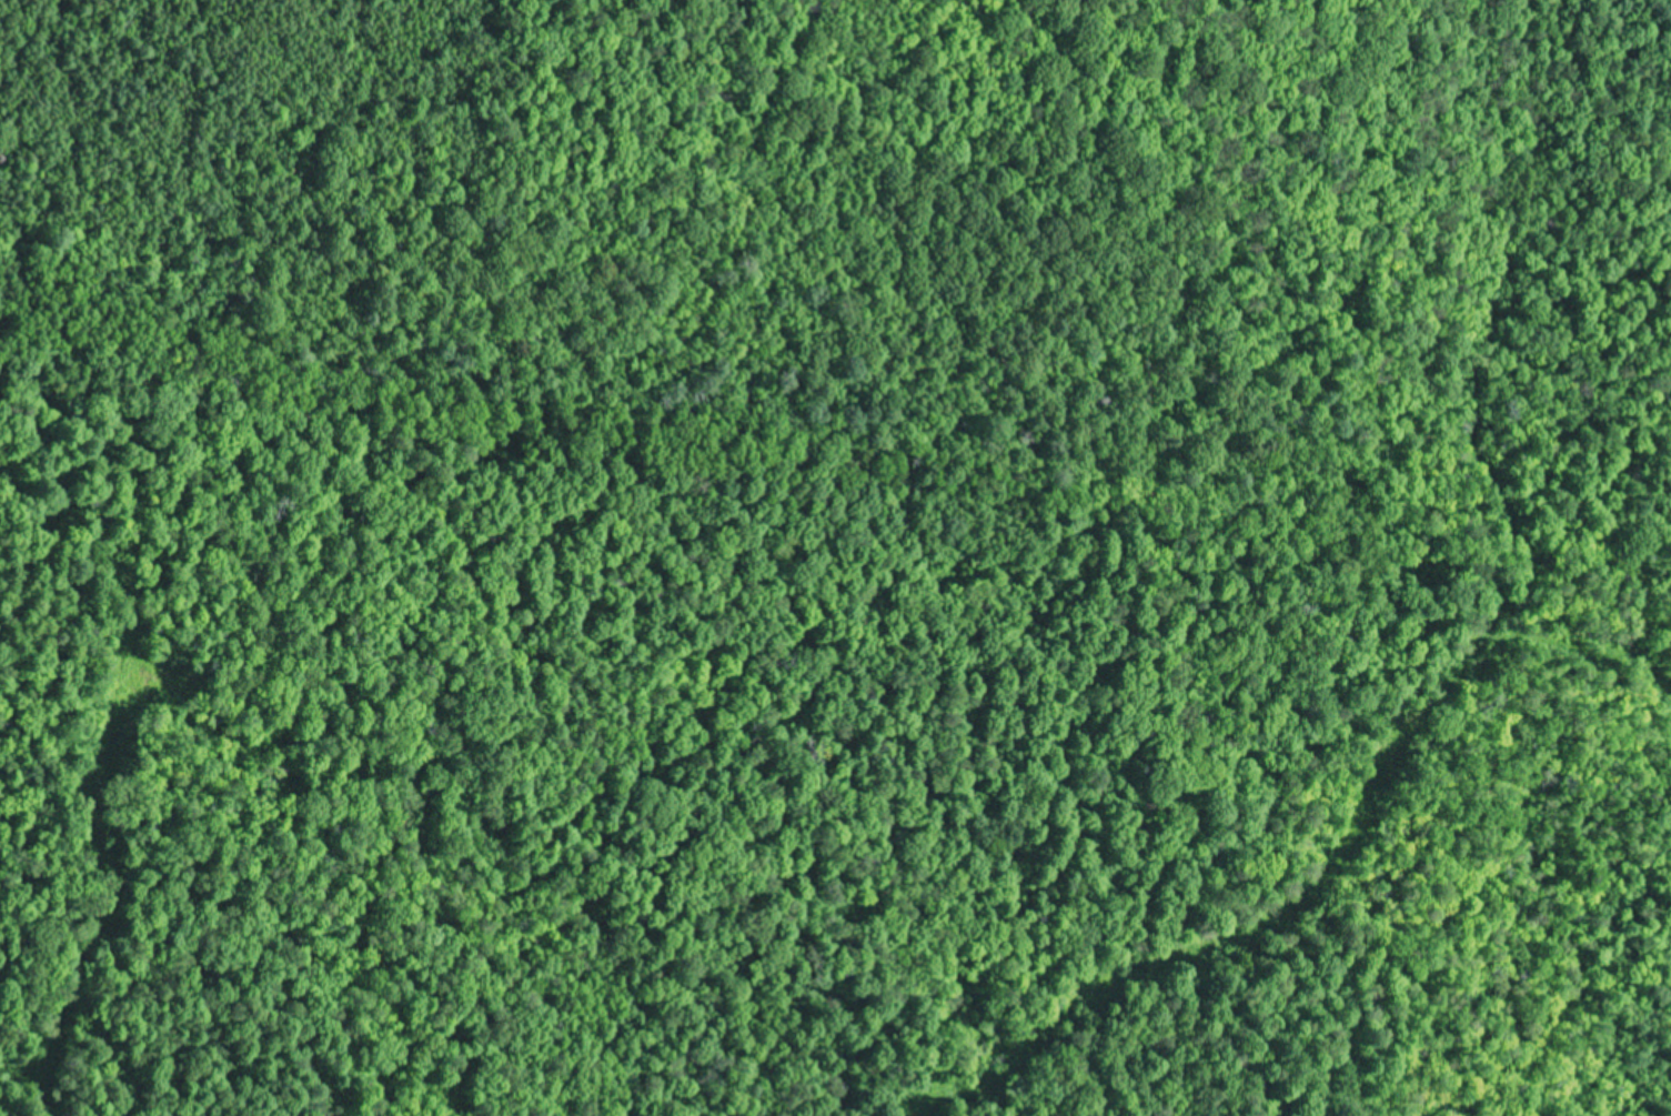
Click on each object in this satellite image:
quarry: (240, 110)

